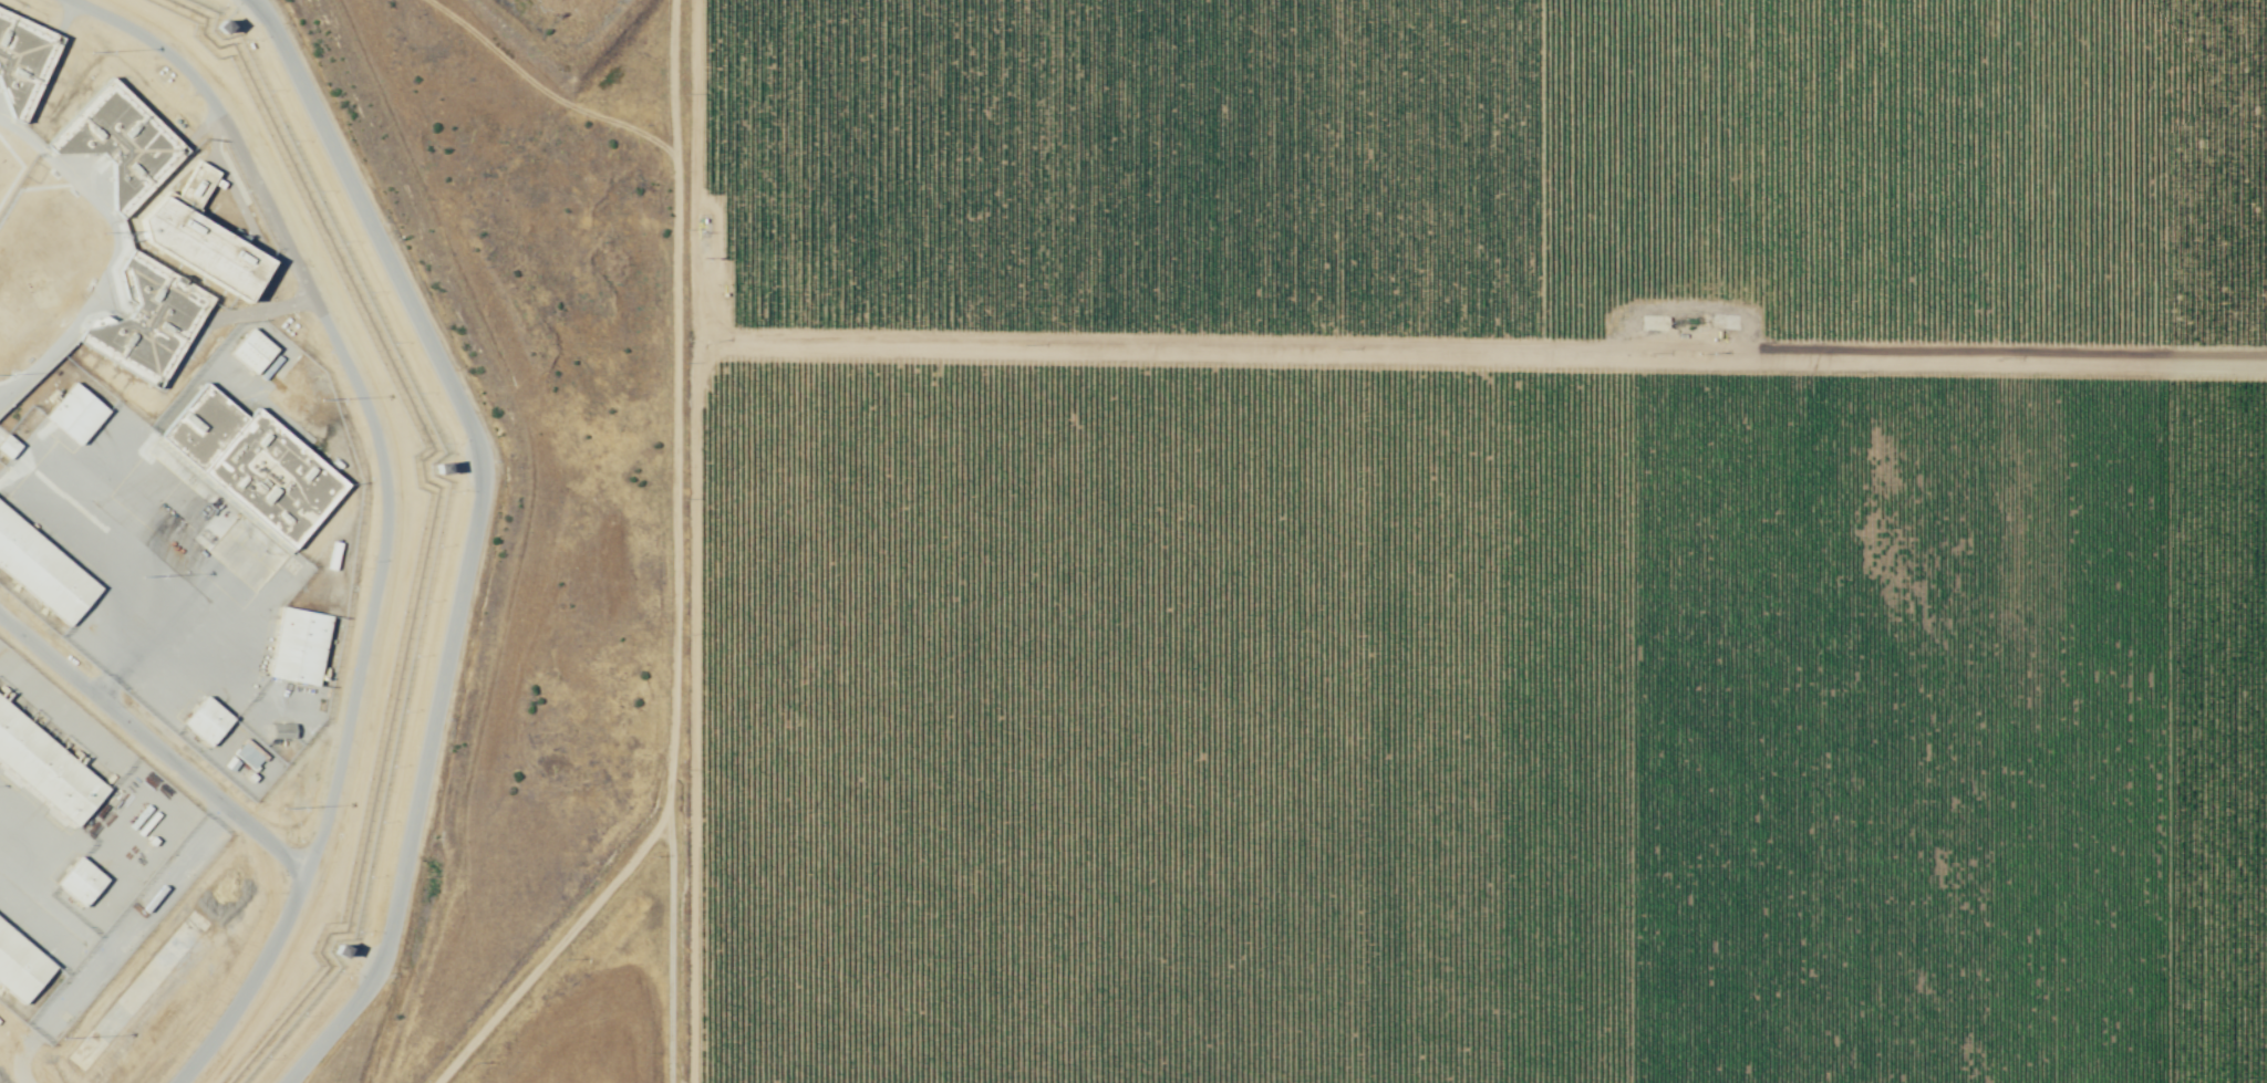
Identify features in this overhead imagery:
building: (219, 25)
wastewater plant: (563, 25)
building: (22, 62)
building: (118, 142)
building: (148, 321)
building: (251, 350)
road: (1115, 350)
building: (74, 414)
building: (7, 446)
building: (253, 465)
building: (437, 468)
road: (473, 535)
road: (671, 541)
crop: (1478, 541)
building: (41, 571)
building: (299, 646)
building: (206, 720)
building: (281, 731)
building: (249, 756)
building: (45, 768)
building: (80, 882)
building: (340, 945)
building: (19, 966)

